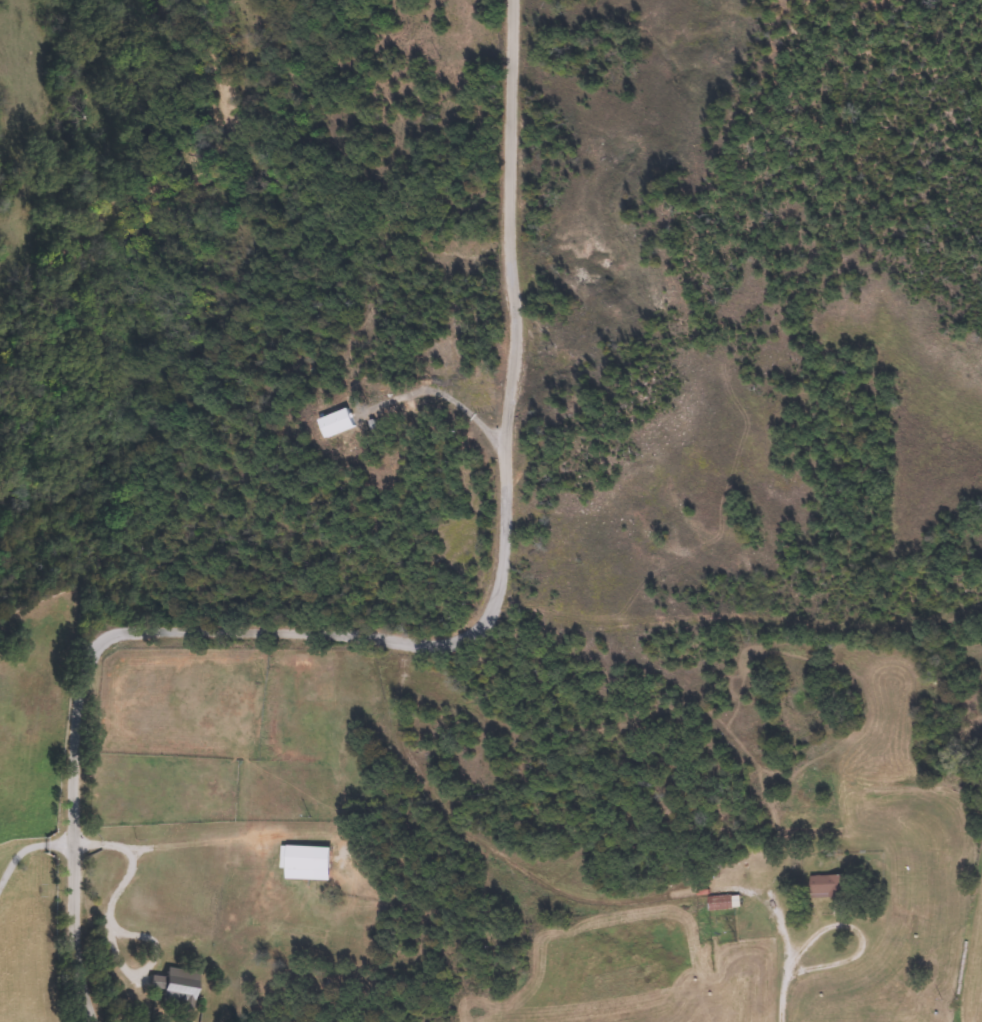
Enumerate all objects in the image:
building: (339, 423)
road: (401, 637)
road: (30, 848)
road: (165, 849)
building: (309, 861)
building: (831, 885)
building: (720, 903)
road: (484, 929)
road: (130, 936)
road: (779, 978)
building: (179, 986)

